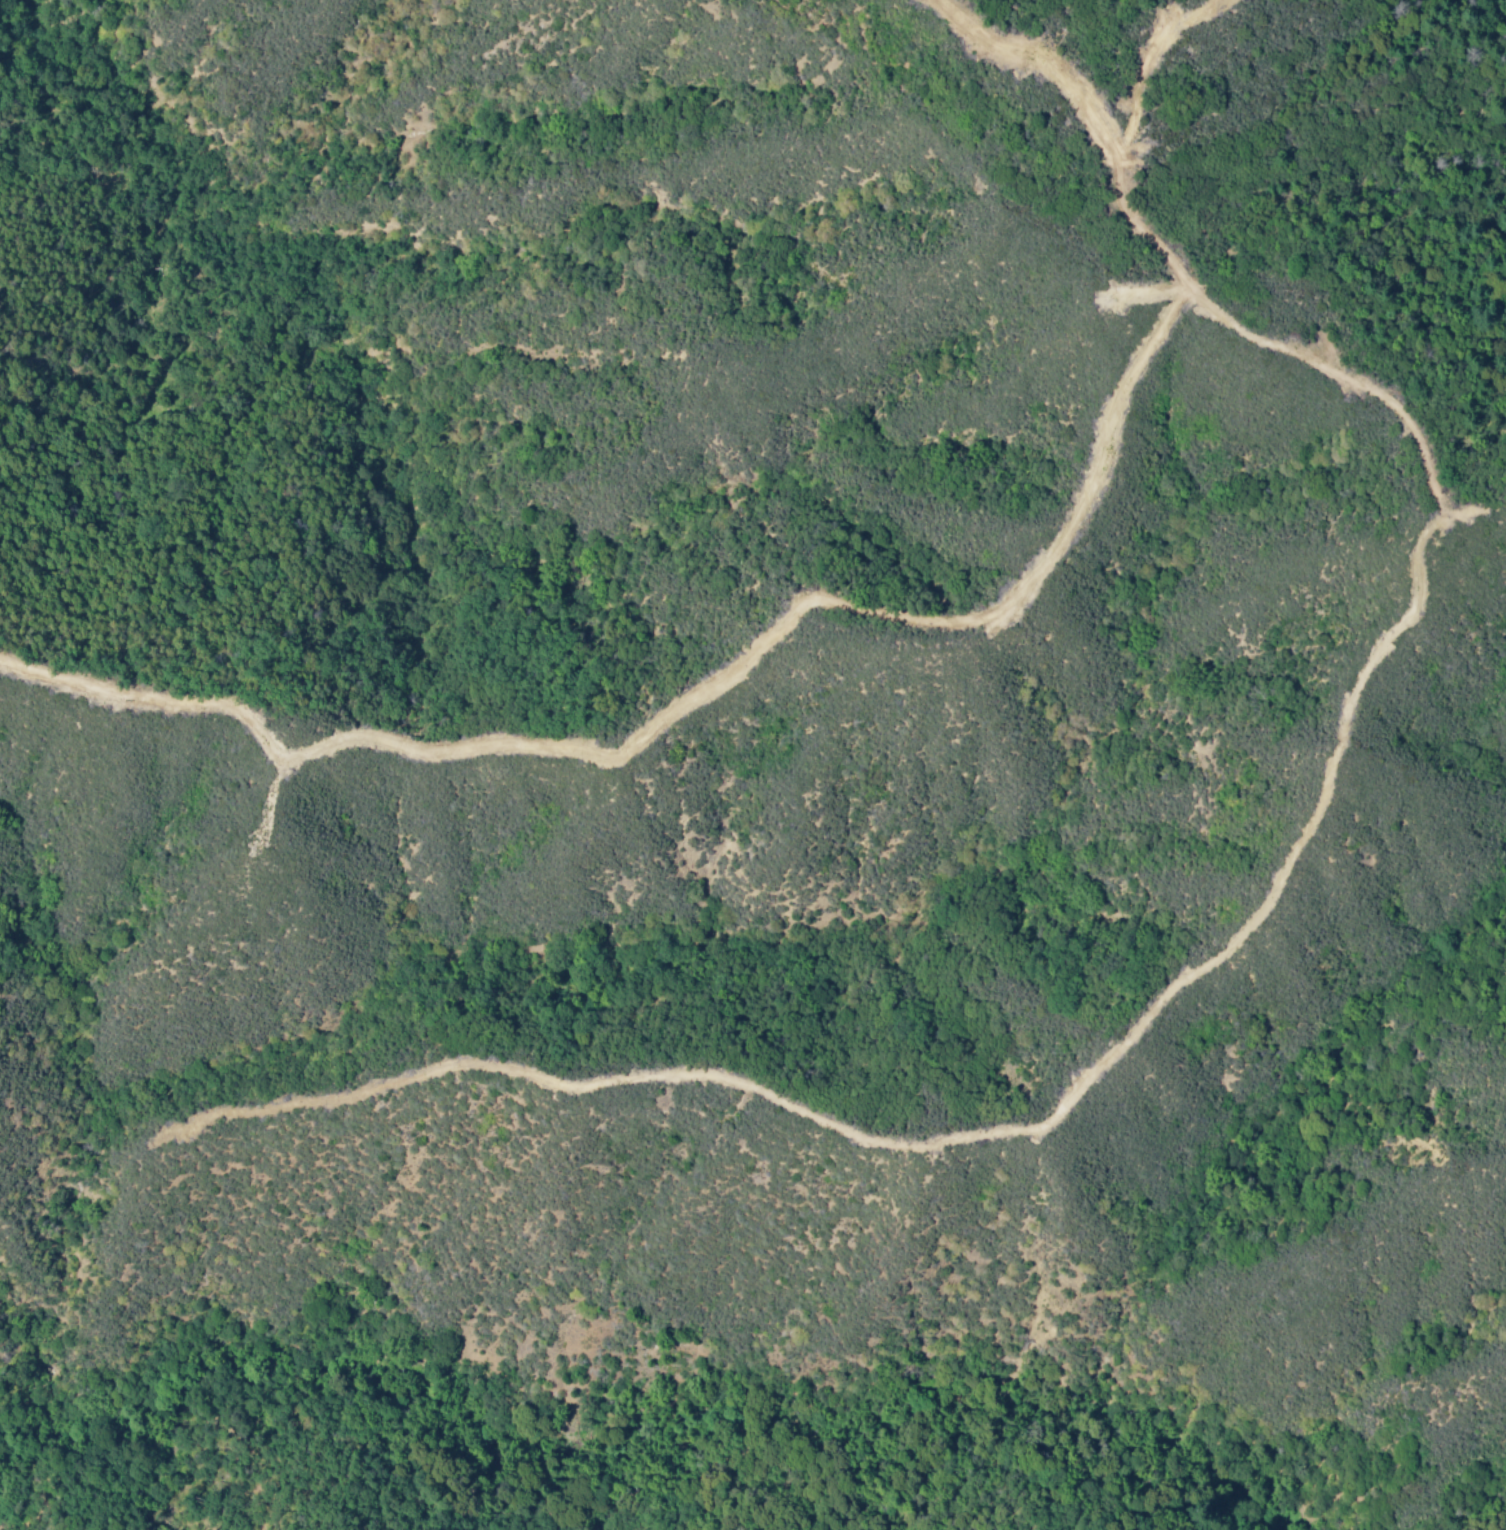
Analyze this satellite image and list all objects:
road: (1101, 125)
road: (1383, 396)
road: (687, 699)

